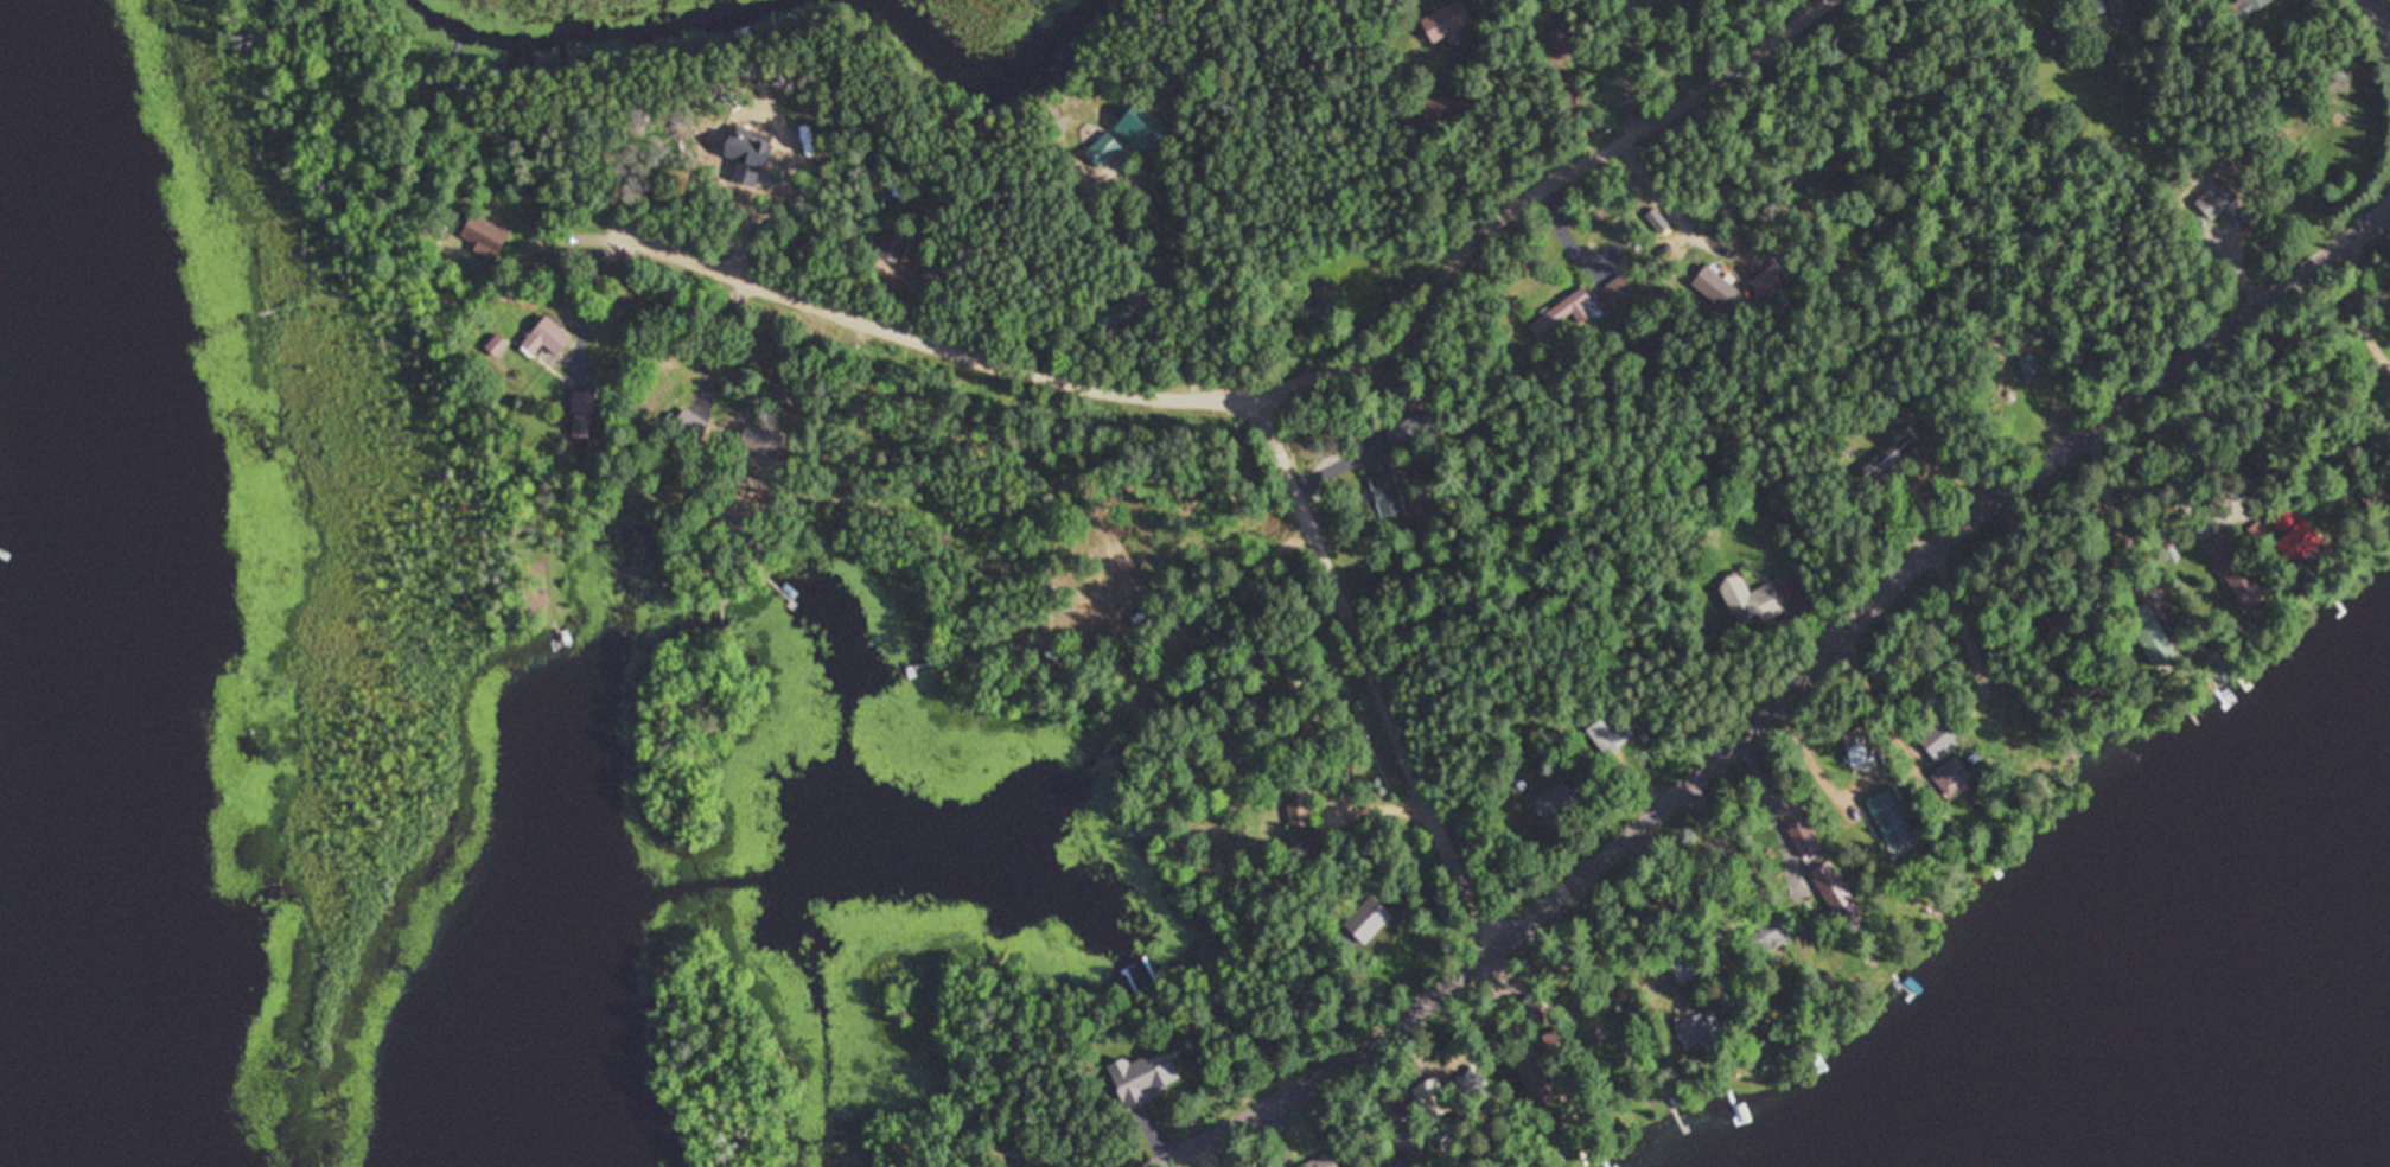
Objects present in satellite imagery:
road: (2385, 5)
building: (2120, 6)
building: (2245, 7)
building: (1446, 20)
building: (2053, 33)
road: (1492, 79)
building: (1567, 94)
building: (1441, 109)
building: (1148, 128)
building: (1103, 149)
building: (2219, 180)
building: (483, 236)
building: (892, 242)
building: (1617, 293)
building: (1563, 314)
building: (546, 338)
building: (496, 345)
road: (1275, 385)
building: (582, 401)
building: (1406, 432)
building: (761, 444)
building: (1387, 492)
building: (2376, 497)
building: (2293, 534)
building: (1118, 553)
building: (2228, 562)
building: (1750, 601)
building: (2059, 623)
building: (2153, 637)
road: (1374, 667)
road: (1776, 691)
building: (1607, 734)
building: (1937, 740)
building: (1860, 745)
building: (1951, 777)
building: (1554, 801)
building: (1298, 804)
building: (1891, 820)
building: (1312, 846)
building: (1829, 888)
building: (1366, 920)
building: (1774, 927)
building: (1699, 1031)
building: (1601, 1037)
building: (1535, 1077)
building: (1142, 1078)
building: (1402, 1135)
building: (1024, 1150)
building: (1318, 1162)

